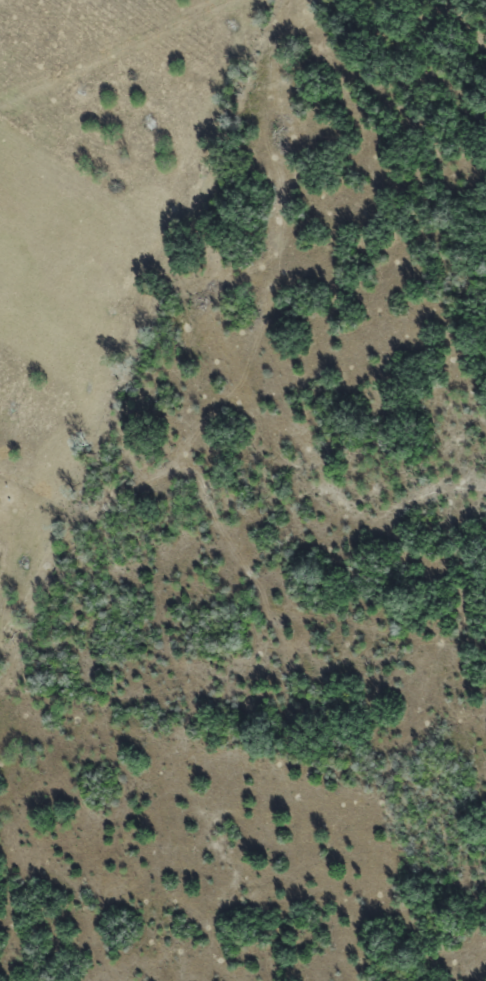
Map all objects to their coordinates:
road: (394, 196)

